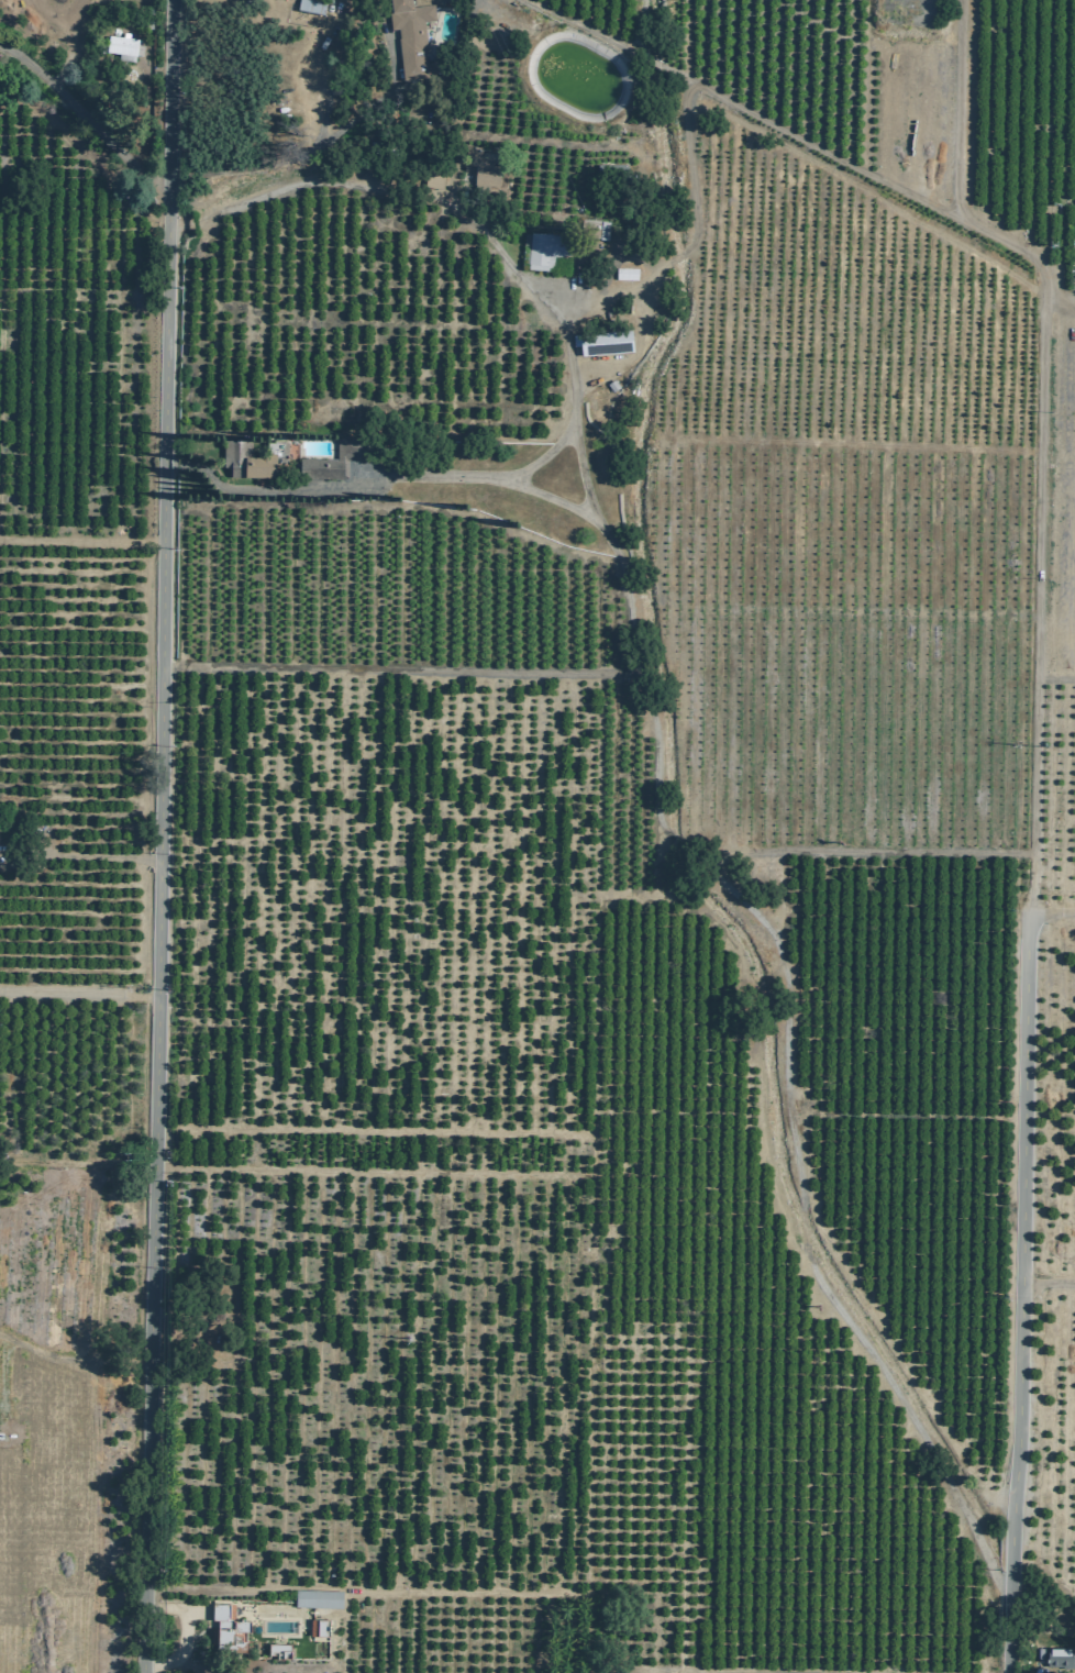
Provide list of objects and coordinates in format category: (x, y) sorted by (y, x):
building: (311, 7)
building: (412, 36)
building: (122, 48)
road: (311, 68)
road: (395, 68)
road: (747, 112)
road: (87, 120)
road: (326, 140)
building: (481, 167)
road: (474, 224)
building: (596, 230)
building: (548, 251)
building: (1074, 273)
road: (1060, 307)
building: (603, 343)
road: (1042, 436)
building: (248, 463)
building: (324, 470)
road: (584, 477)
road: (541, 497)
road: (82, 543)
road: (402, 672)
road: (162, 836)
road: (677, 844)
road: (102, 856)
road: (1051, 919)
road: (80, 995)
road: (788, 1007)
road: (1023, 1223)
road: (806, 1229)
road: (1049, 1285)
road: (917, 1425)
road: (1013, 1558)
building: (319, 1598)
building: (228, 1628)
building: (319, 1628)
road: (1010, 1629)
road: (185, 1643)
building: (279, 1650)
building: (1060, 1651)

